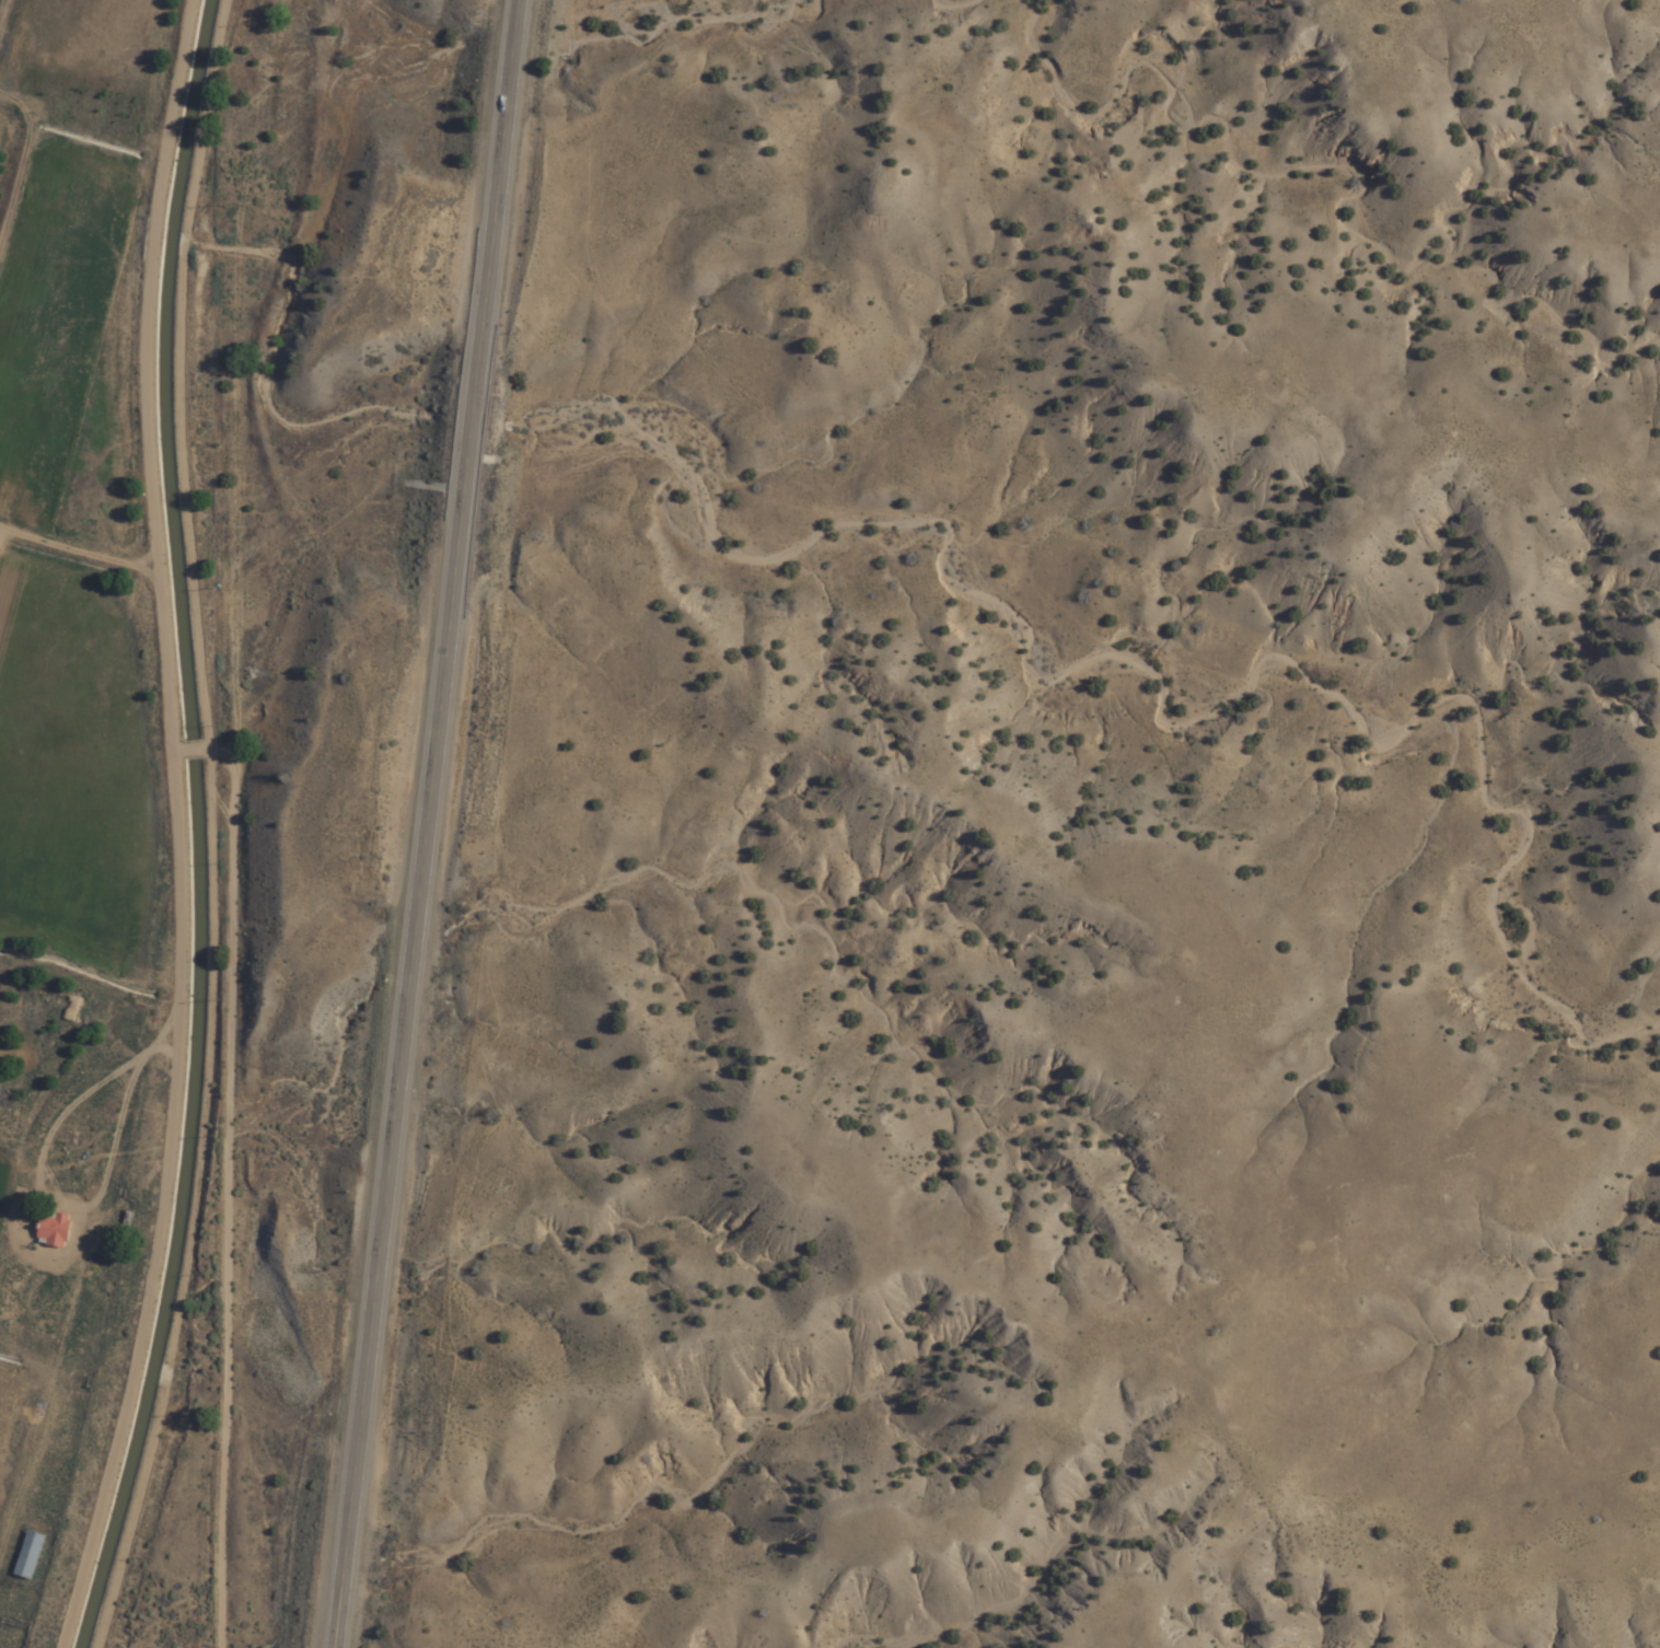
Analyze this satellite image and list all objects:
road: (258, 823)
road: (423, 823)
building: (71, 1009)
building: (53, 1230)
building: (114, 1249)
building: (28, 1555)

